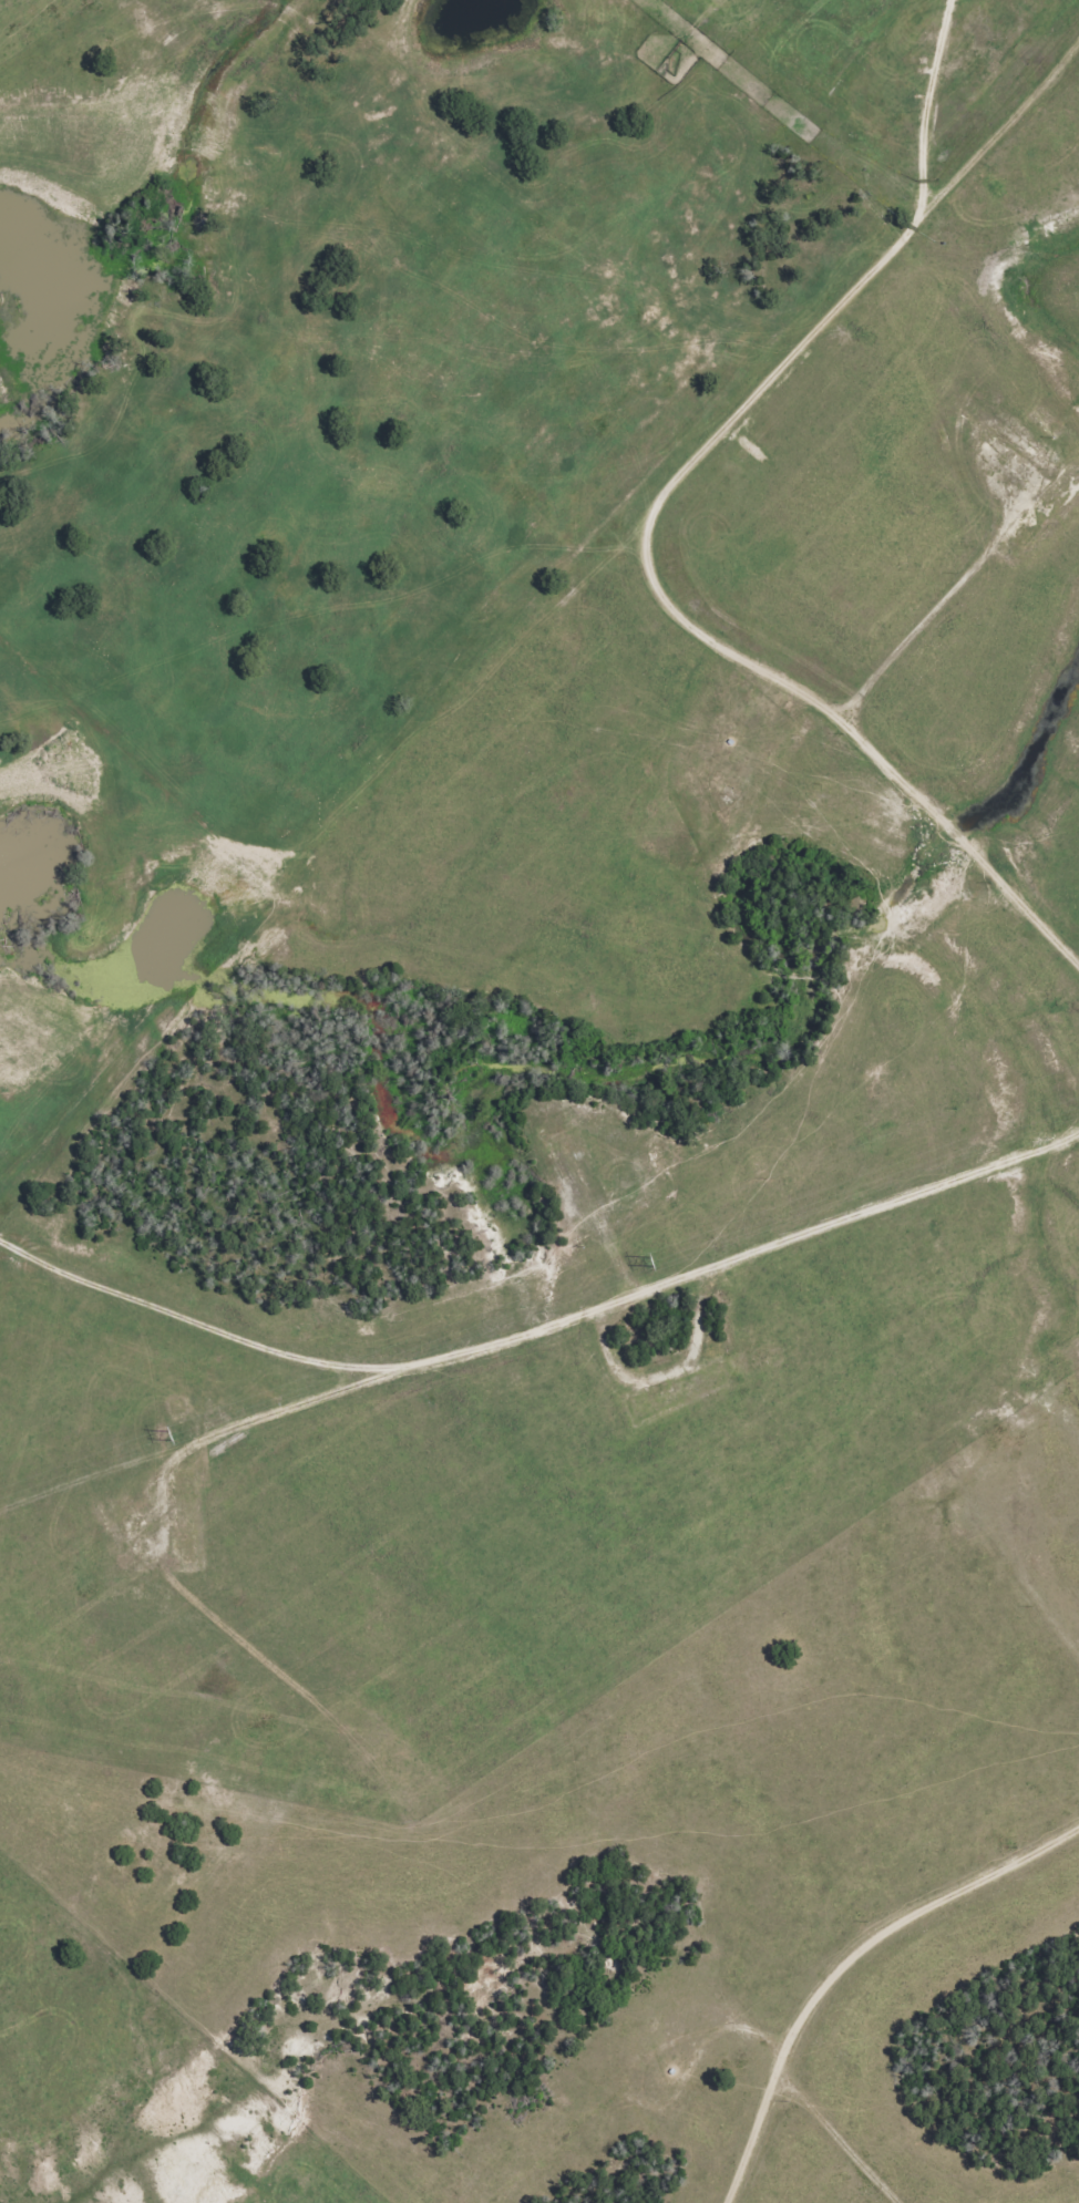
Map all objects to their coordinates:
road: (651, 517)
road: (947, 598)
power tower: (658, 1266)
road: (580, 1315)
road: (203, 1326)
power tower: (168, 1441)
road: (845, 1957)
road: (782, 2061)

